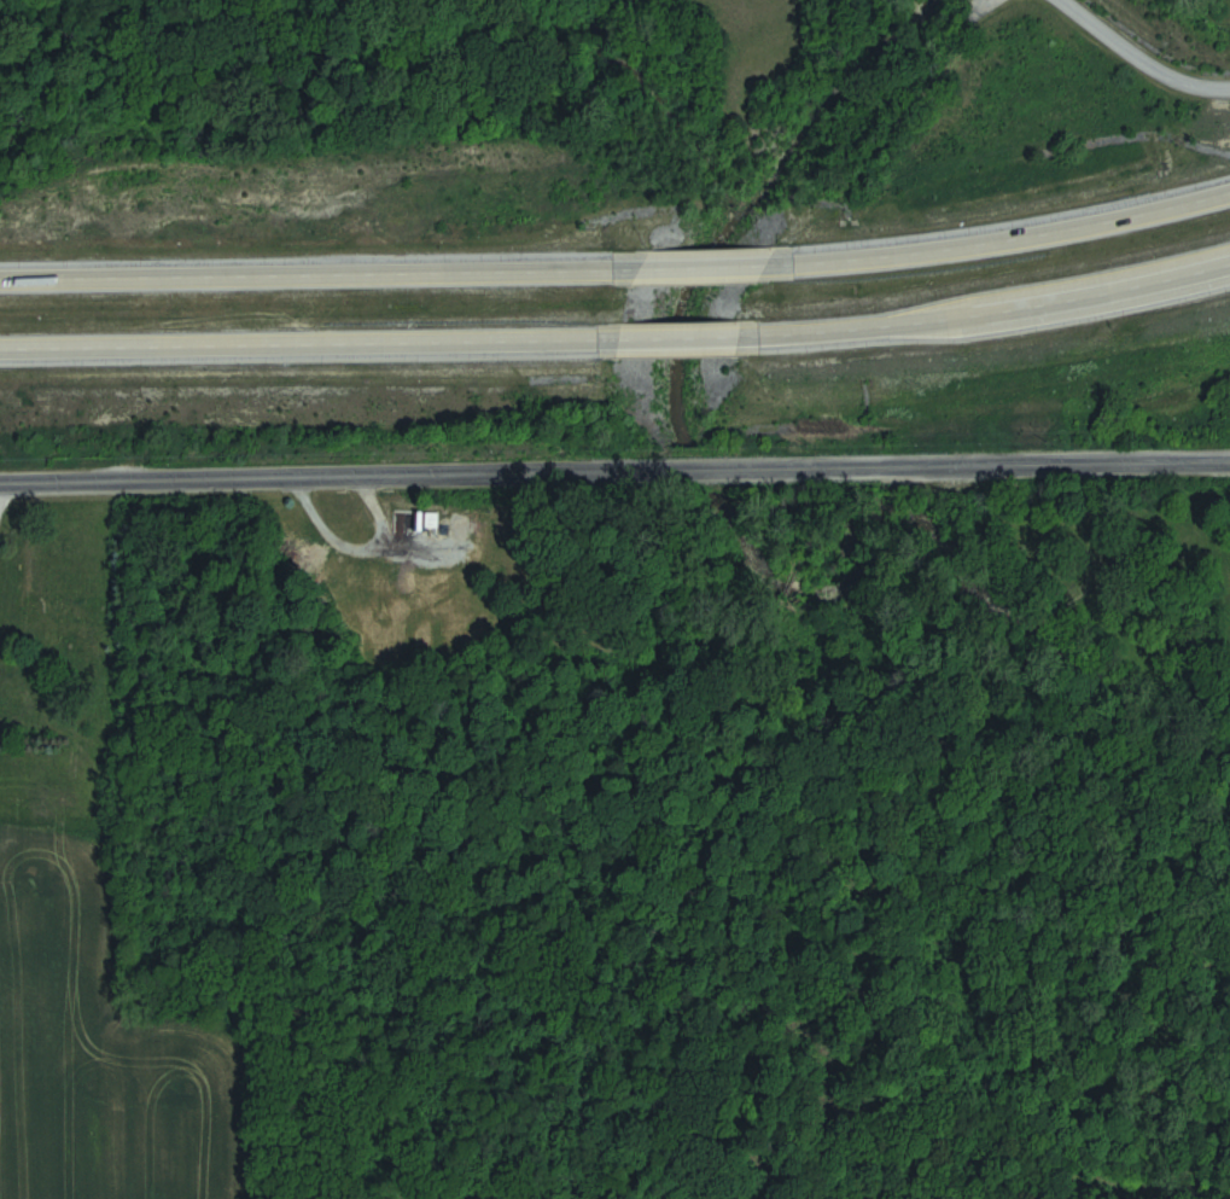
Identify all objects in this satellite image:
road: (1139, 54)
road: (618, 268)
road: (618, 341)
road: (614, 473)
building: (355, 580)

